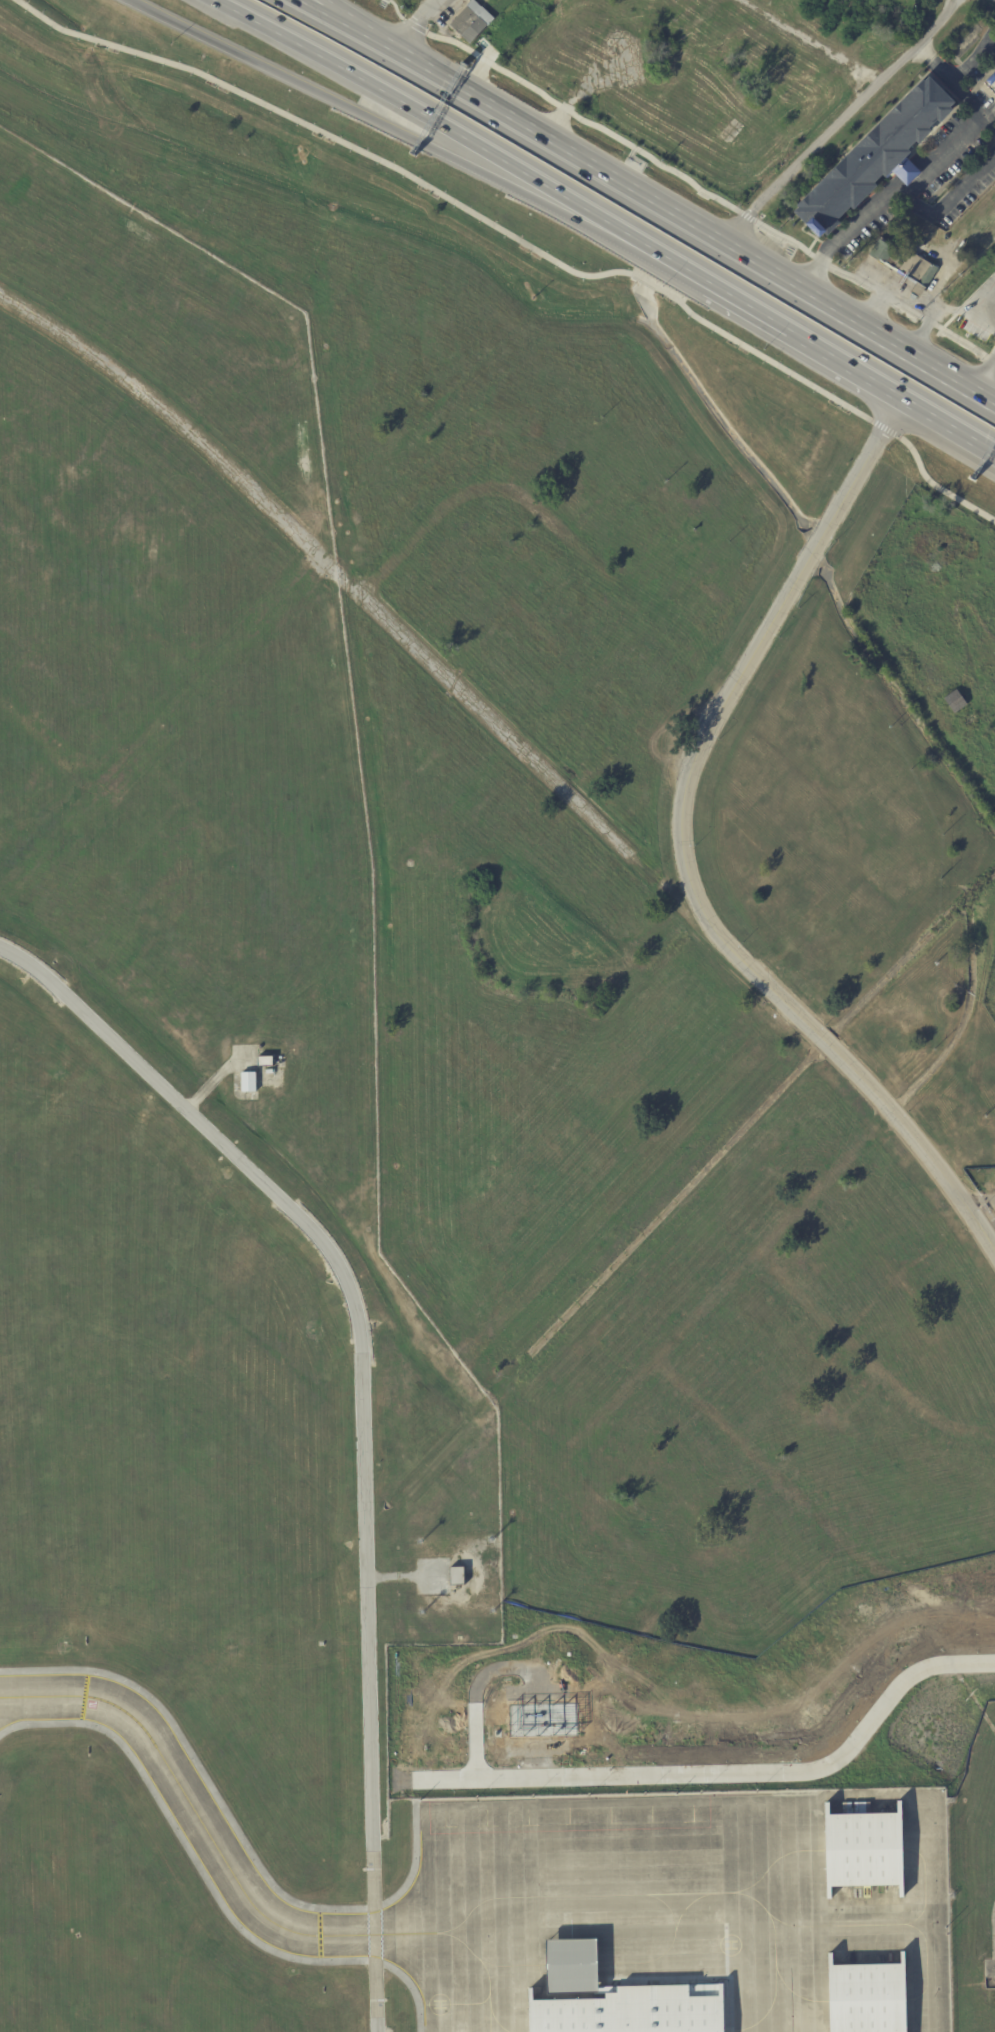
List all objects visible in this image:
road: (321, 11)
road: (332, 11)
building: (470, 20)
road: (413, 24)
road: (431, 119)
road: (387, 126)
road: (573, 156)
building: (874, 157)
road: (689, 181)
road: (521, 243)
road: (676, 263)
building: (904, 265)
road: (908, 299)
road: (748, 305)
road: (976, 314)
road: (898, 348)
road: (846, 362)
road: (985, 379)
road: (949, 423)
building: (953, 701)
building: (971, 721)
road: (685, 851)
building: (268, 1061)
building: (270, 1072)
building: (249, 1082)
airport: (470, 1140)
road: (985, 1215)
road: (361, 1416)
building: (461, 1576)
building: (547, 1724)
road: (728, 1772)
building: (862, 1852)
airport apron: (621, 1896)
airport taxiway: (315, 1934)
building: (866, 1998)
building: (617, 1999)

